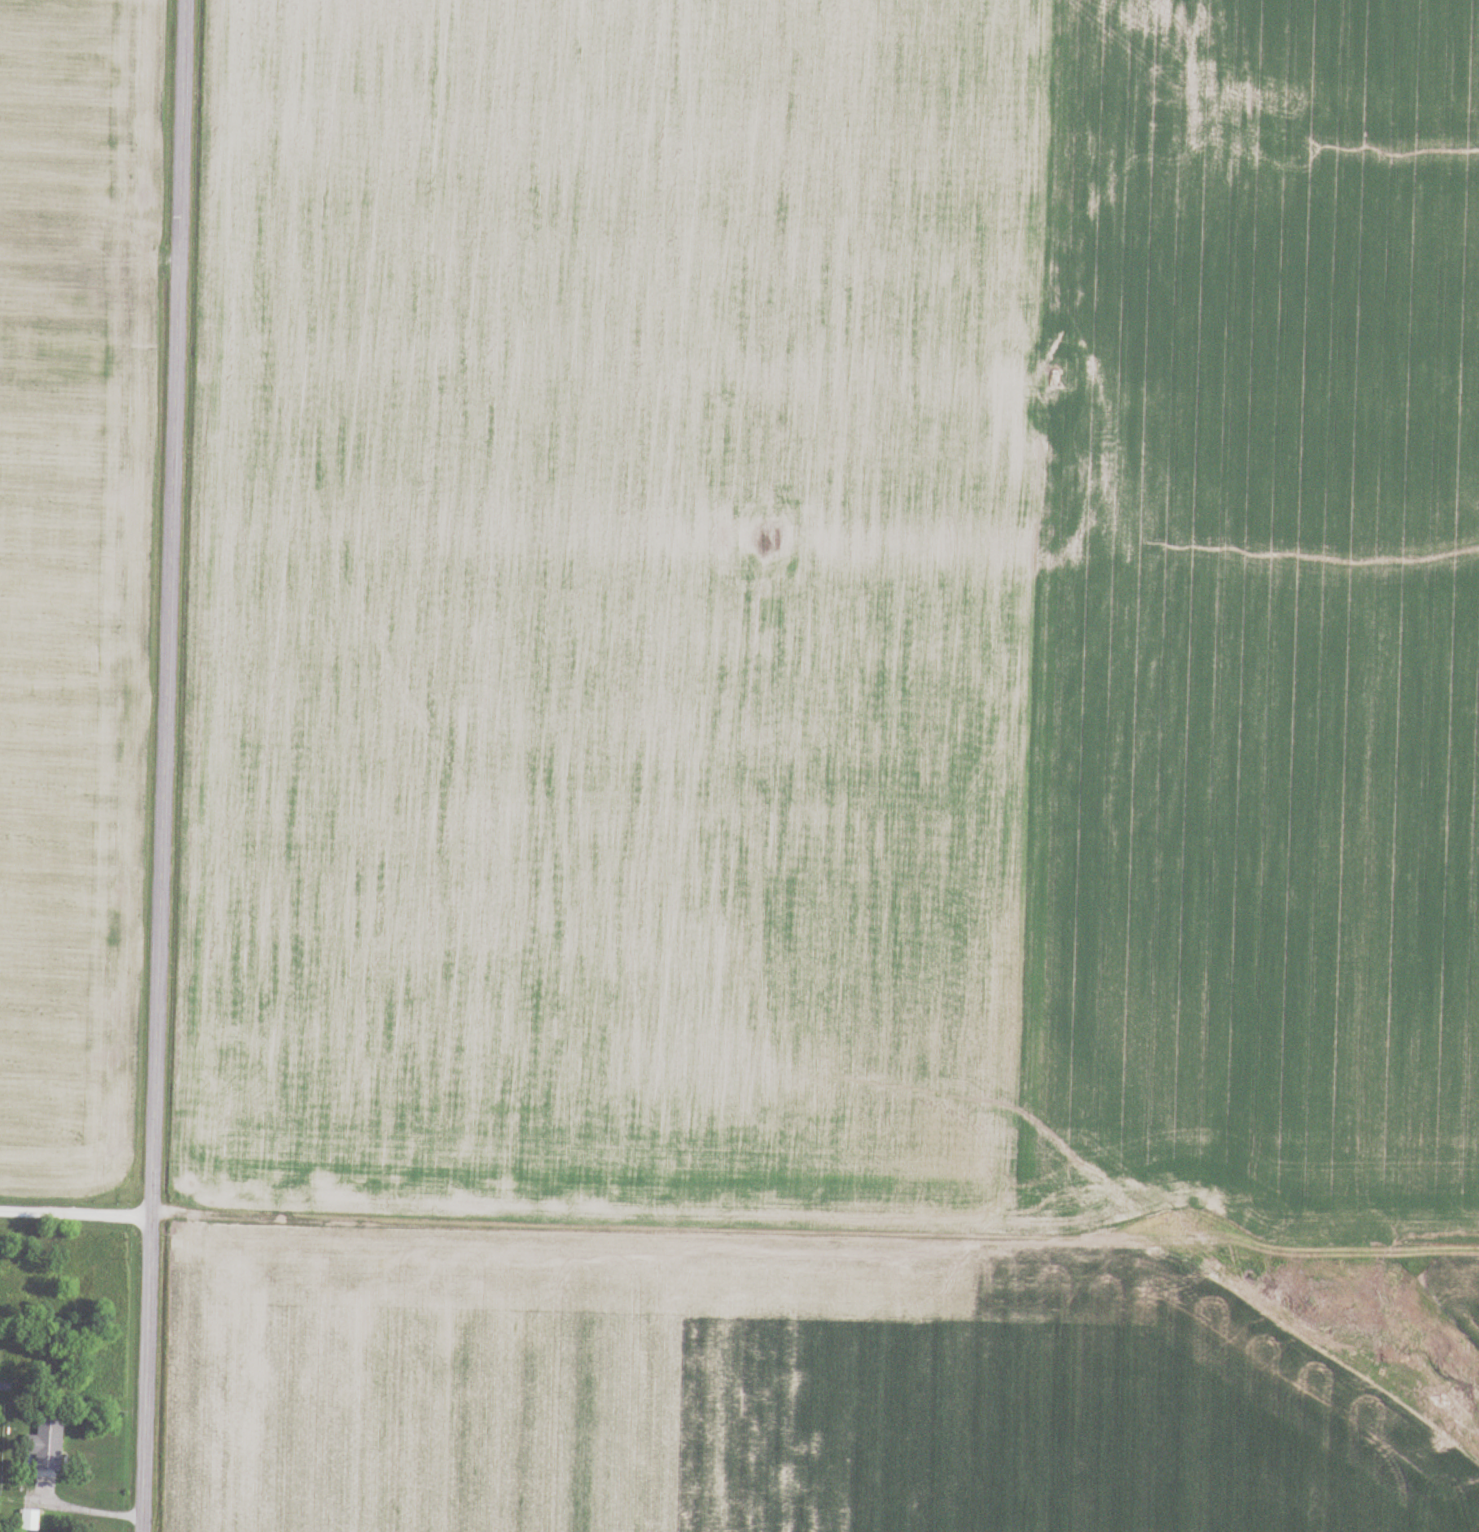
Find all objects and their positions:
road: (163, 765)
road: (76, 1211)
road: (694, 1236)
building: (47, 1445)
road: (84, 1506)
building: (30, 1520)

